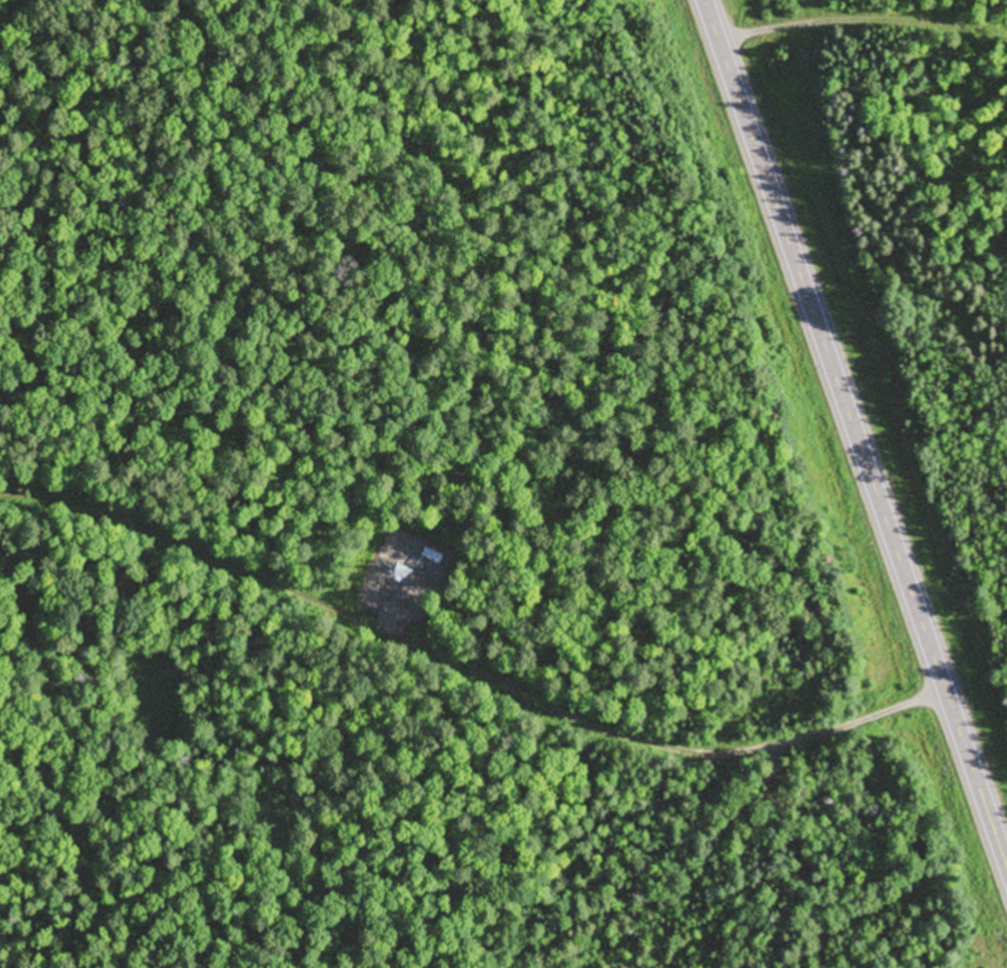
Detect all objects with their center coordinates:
road: (855, 435)
road: (430, 553)

